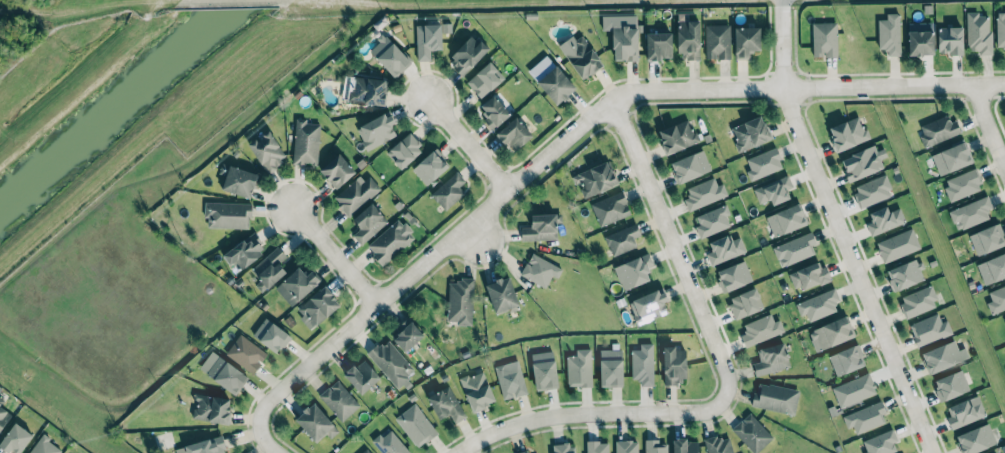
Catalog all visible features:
road: (103, 5)
building: (1000, 29)
building: (978, 33)
building: (888, 34)
building: (622, 35)
building: (920, 38)
building: (688, 39)
building: (824, 39)
building: (949, 39)
building: (427, 40)
building: (717, 41)
building: (745, 41)
building: (658, 45)
building: (467, 55)
building: (388, 56)
building: (580, 56)
building: (484, 79)
building: (555, 85)
building: (367, 90)
building: (493, 112)
road: (990, 120)
road: (582, 127)
building: (376, 130)
building: (937, 130)
building: (749, 133)
building: (847, 133)
building: (513, 134)
building: (677, 136)
building: (305, 142)
road: (469, 143)
building: (404, 150)
building: (267, 151)
building: (950, 159)
building: (862, 162)
building: (763, 164)
building: (689, 166)
building: (428, 167)
building: (336, 171)
building: (594, 178)
building: (238, 181)
building: (963, 184)
building: (773, 190)
building: (447, 191)
building: (871, 191)
building: (703, 193)
building: (355, 194)
building: (610, 208)
building: (970, 213)
building: (227, 214)
building: (883, 219)
building: (785, 220)
building: (711, 221)
building: (367, 223)
building: (540, 227)
road: (841, 230)
road: (472, 236)
building: (622, 239)
building: (986, 239)
building: (390, 241)
building: (897, 245)
building: (724, 249)
building: (794, 249)
building: (243, 252)
road: (336, 253)
building: (992, 268)
building: (268, 269)
building: (539, 270)
building: (633, 271)
building: (905, 274)
building: (733, 276)
building: (807, 276)
building: (296, 285)
building: (501, 294)
building: (996, 299)
building: (460, 301)
building: (918, 301)
building: (744, 302)
building: (818, 304)
building: (647, 306)
building: (316, 307)
building: (1004, 319)
building: (760, 330)
building: (929, 330)
building: (406, 334)
building: (830, 334)
building: (270, 335)
building: (245, 353)
building: (943, 356)
building: (770, 359)
building: (845, 359)
building: (391, 362)
building: (642, 364)
building: (673, 366)
building: (610, 367)
building: (579, 368)
building: (543, 370)
building: (222, 373)
building: (361, 376)
road: (725, 377)
building: (510, 381)
building: (950, 384)
building: (476, 390)
building: (853, 390)
building: (775, 398)
building: (339, 400)
building: (445, 404)
building: (210, 408)
building: (964, 411)
building: (3, 415)
building: (865, 417)
building: (315, 422)
building: (415, 425)
building: (751, 432)
road: (262, 436)
building: (15, 439)
building: (975, 439)
building: (880, 442)
building: (389, 443)
building: (717, 444)
building: (44, 446)
building: (203, 446)
building: (626, 446)
building: (655, 446)
building: (684, 446)
building: (596, 447)
building: (562, 448)
building: (364, 451)
building: (522, 452)
building: (994, 452)
building: (995, 452)

